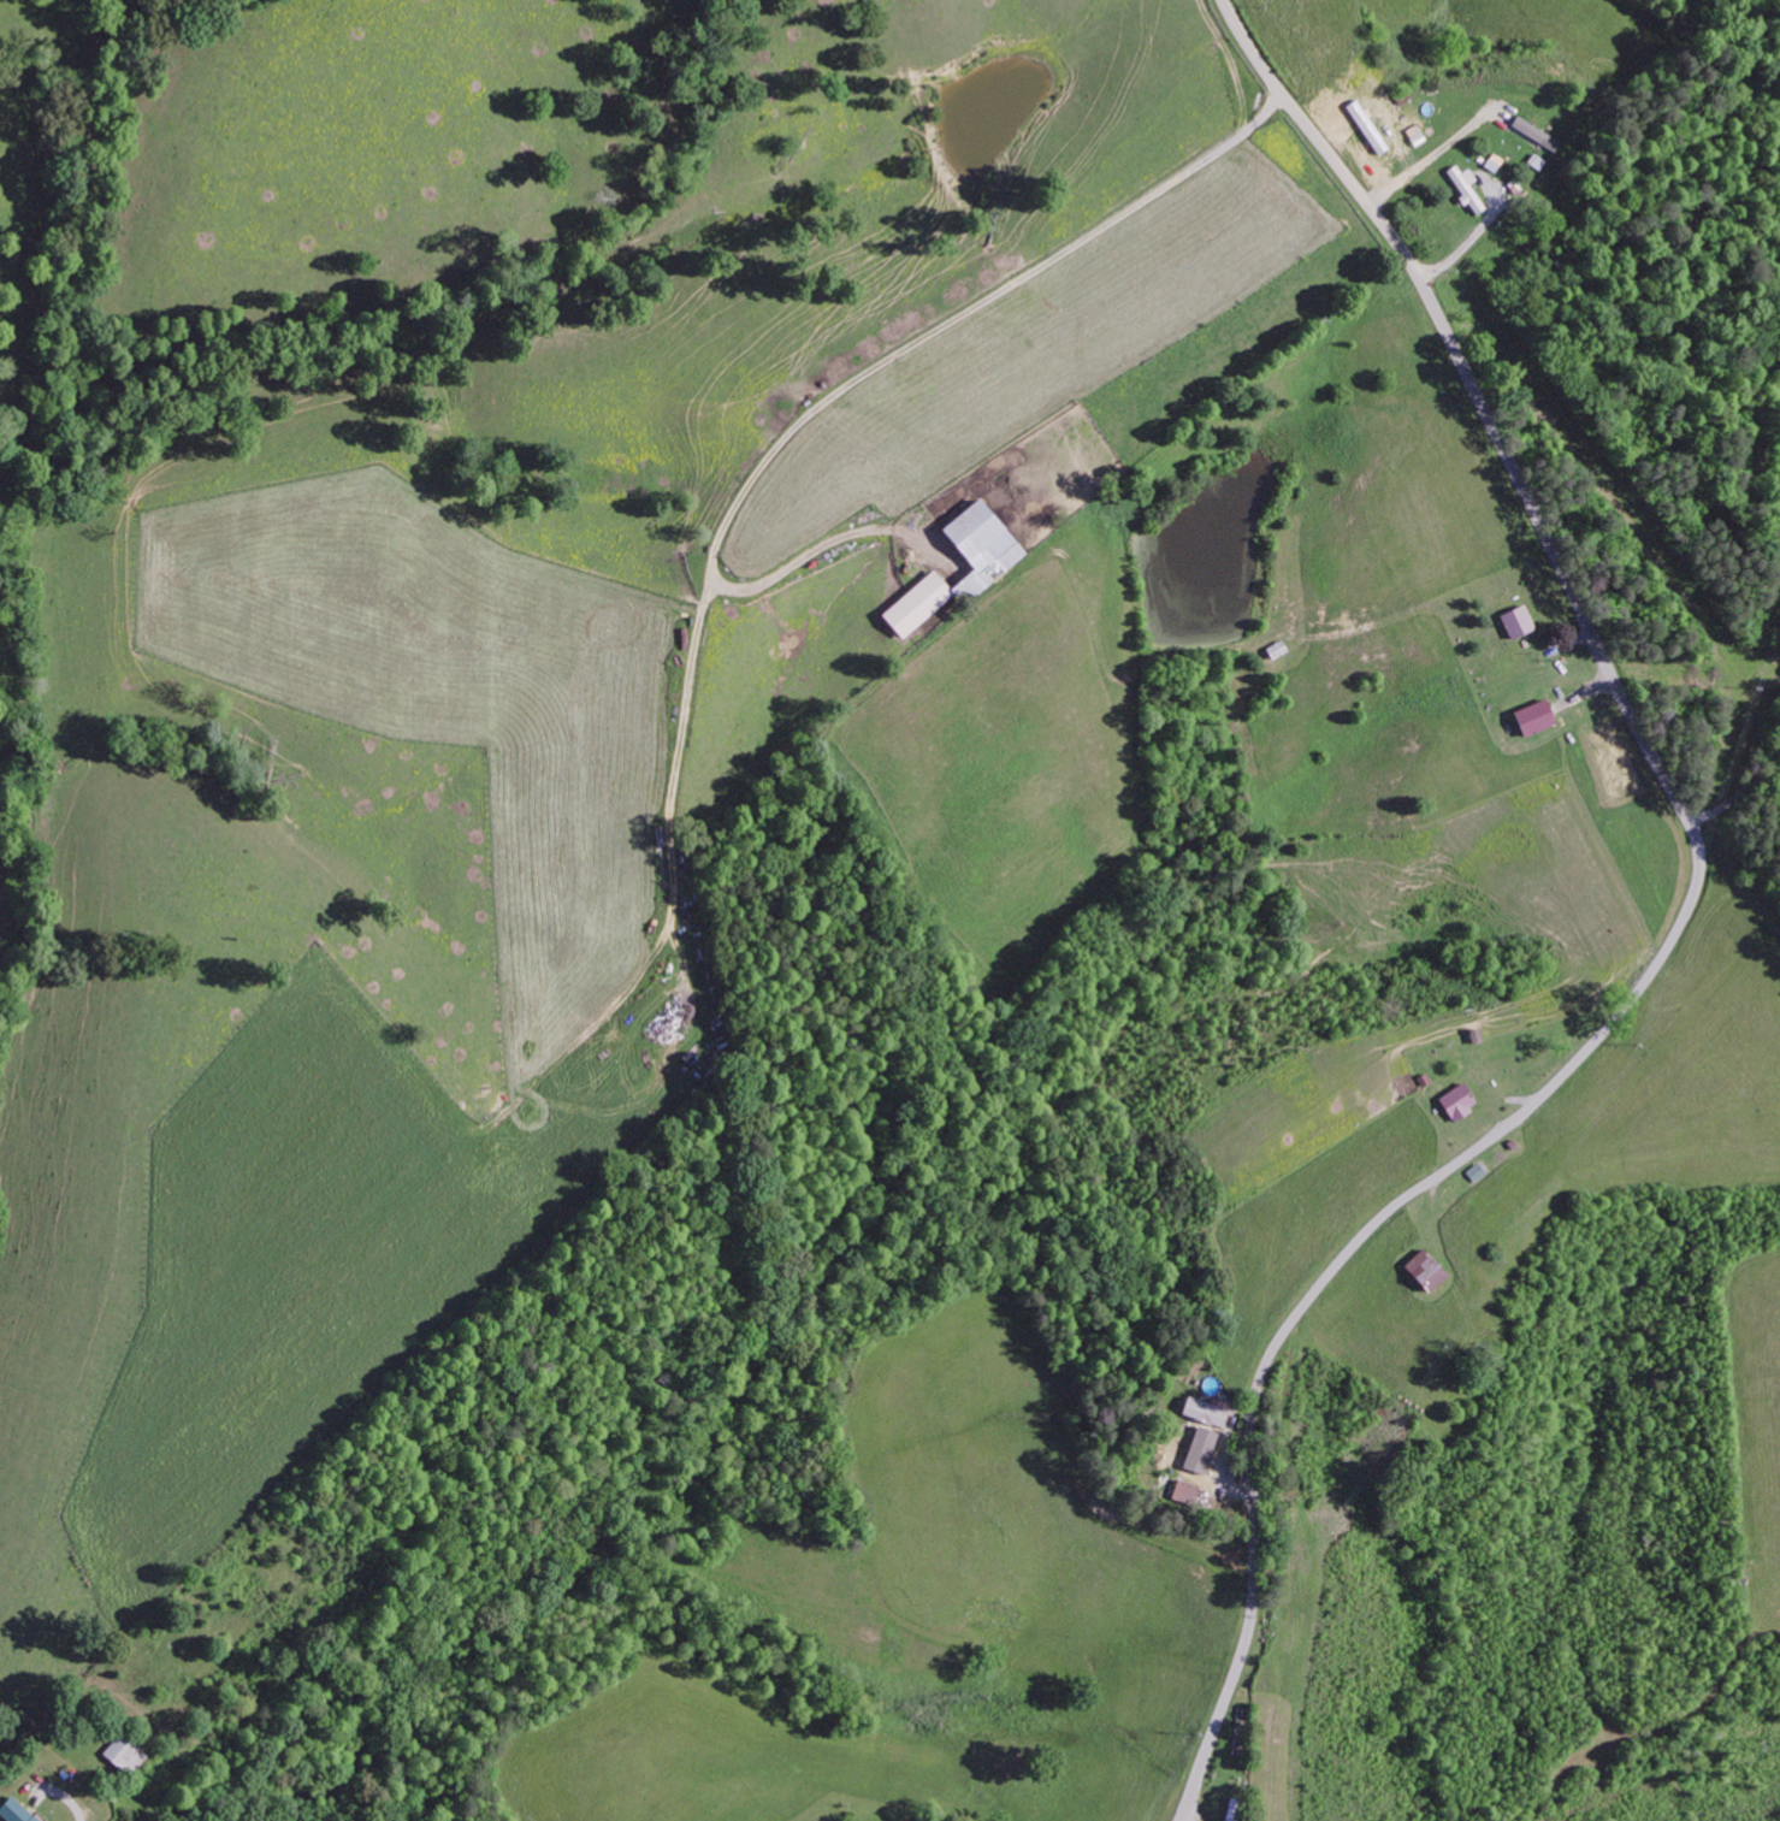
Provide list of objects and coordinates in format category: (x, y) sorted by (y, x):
building: (1447, 134)
building: (1534, 134)
building: (1466, 188)
building: (988, 563)
building: (1514, 623)
building: (1273, 652)
building: (1531, 720)
road: (1735, 796)
road: (1676, 935)
building: (1455, 1104)
building: (1423, 1273)
building: (1205, 1413)
building: (1197, 1453)
building: (1182, 1495)
building: (122, 1758)
building: (1231, 1811)
building: (12, 1813)

